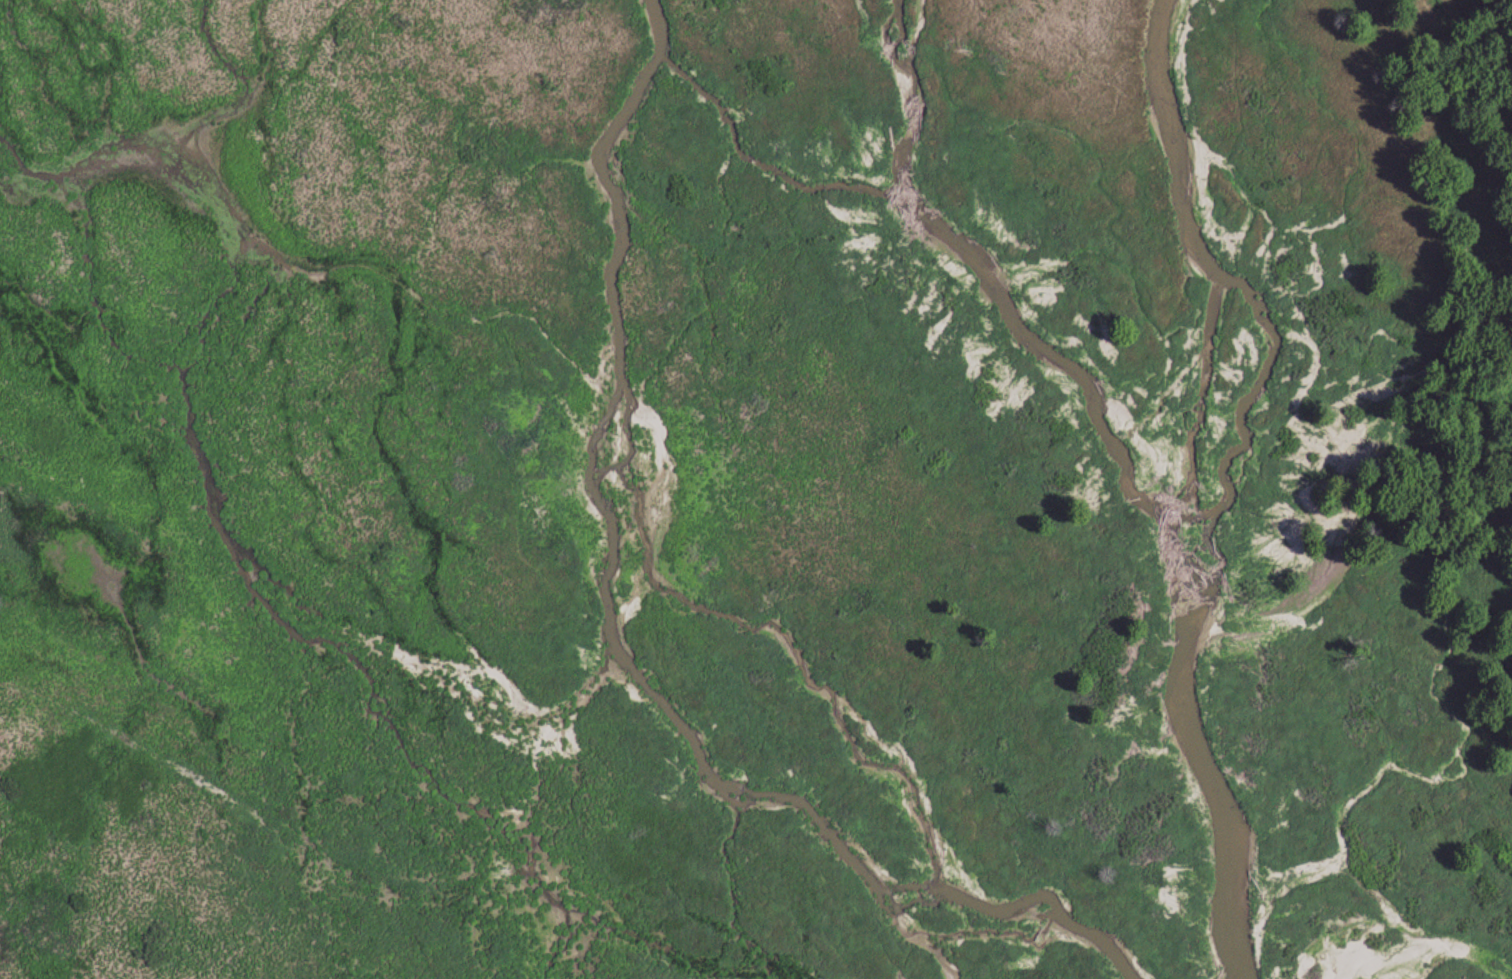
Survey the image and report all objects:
river: (1185, 490)

